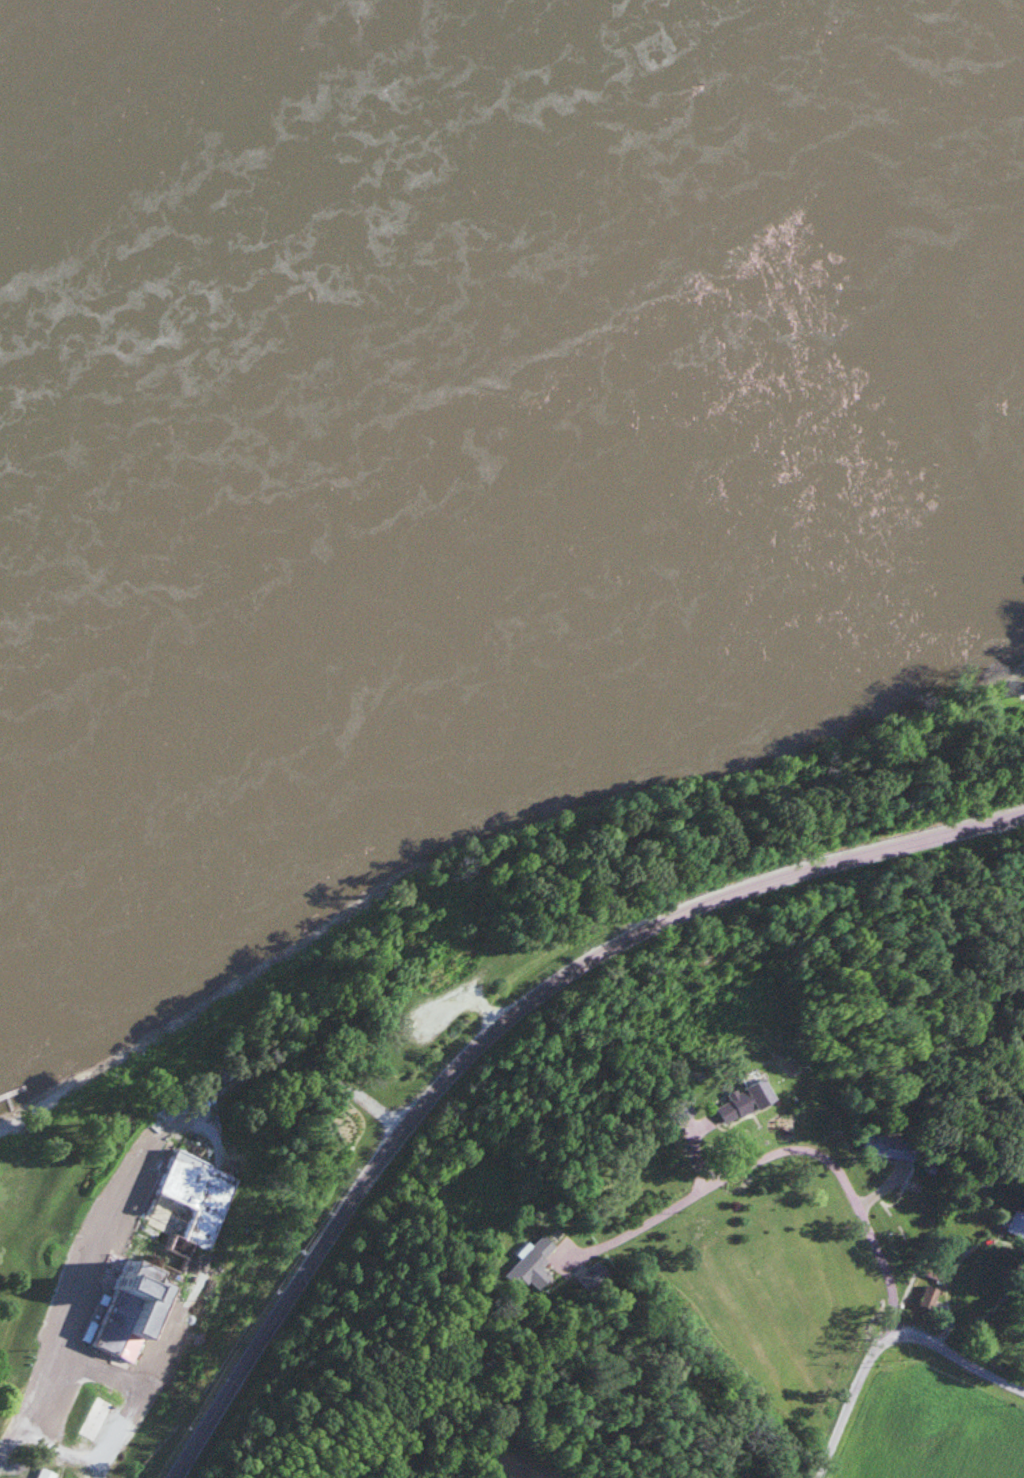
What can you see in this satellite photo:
river: (326, 222)
building: (1023, 685)
road: (689, 911)
building: (744, 1100)
road: (843, 1170)
road: (174, 1191)
building: (167, 1244)
building: (534, 1263)
road: (287, 1294)
building: (929, 1296)
road: (954, 1361)
road: (13, 1372)
road: (848, 1401)
building: (102, 1410)
building: (44, 1472)

